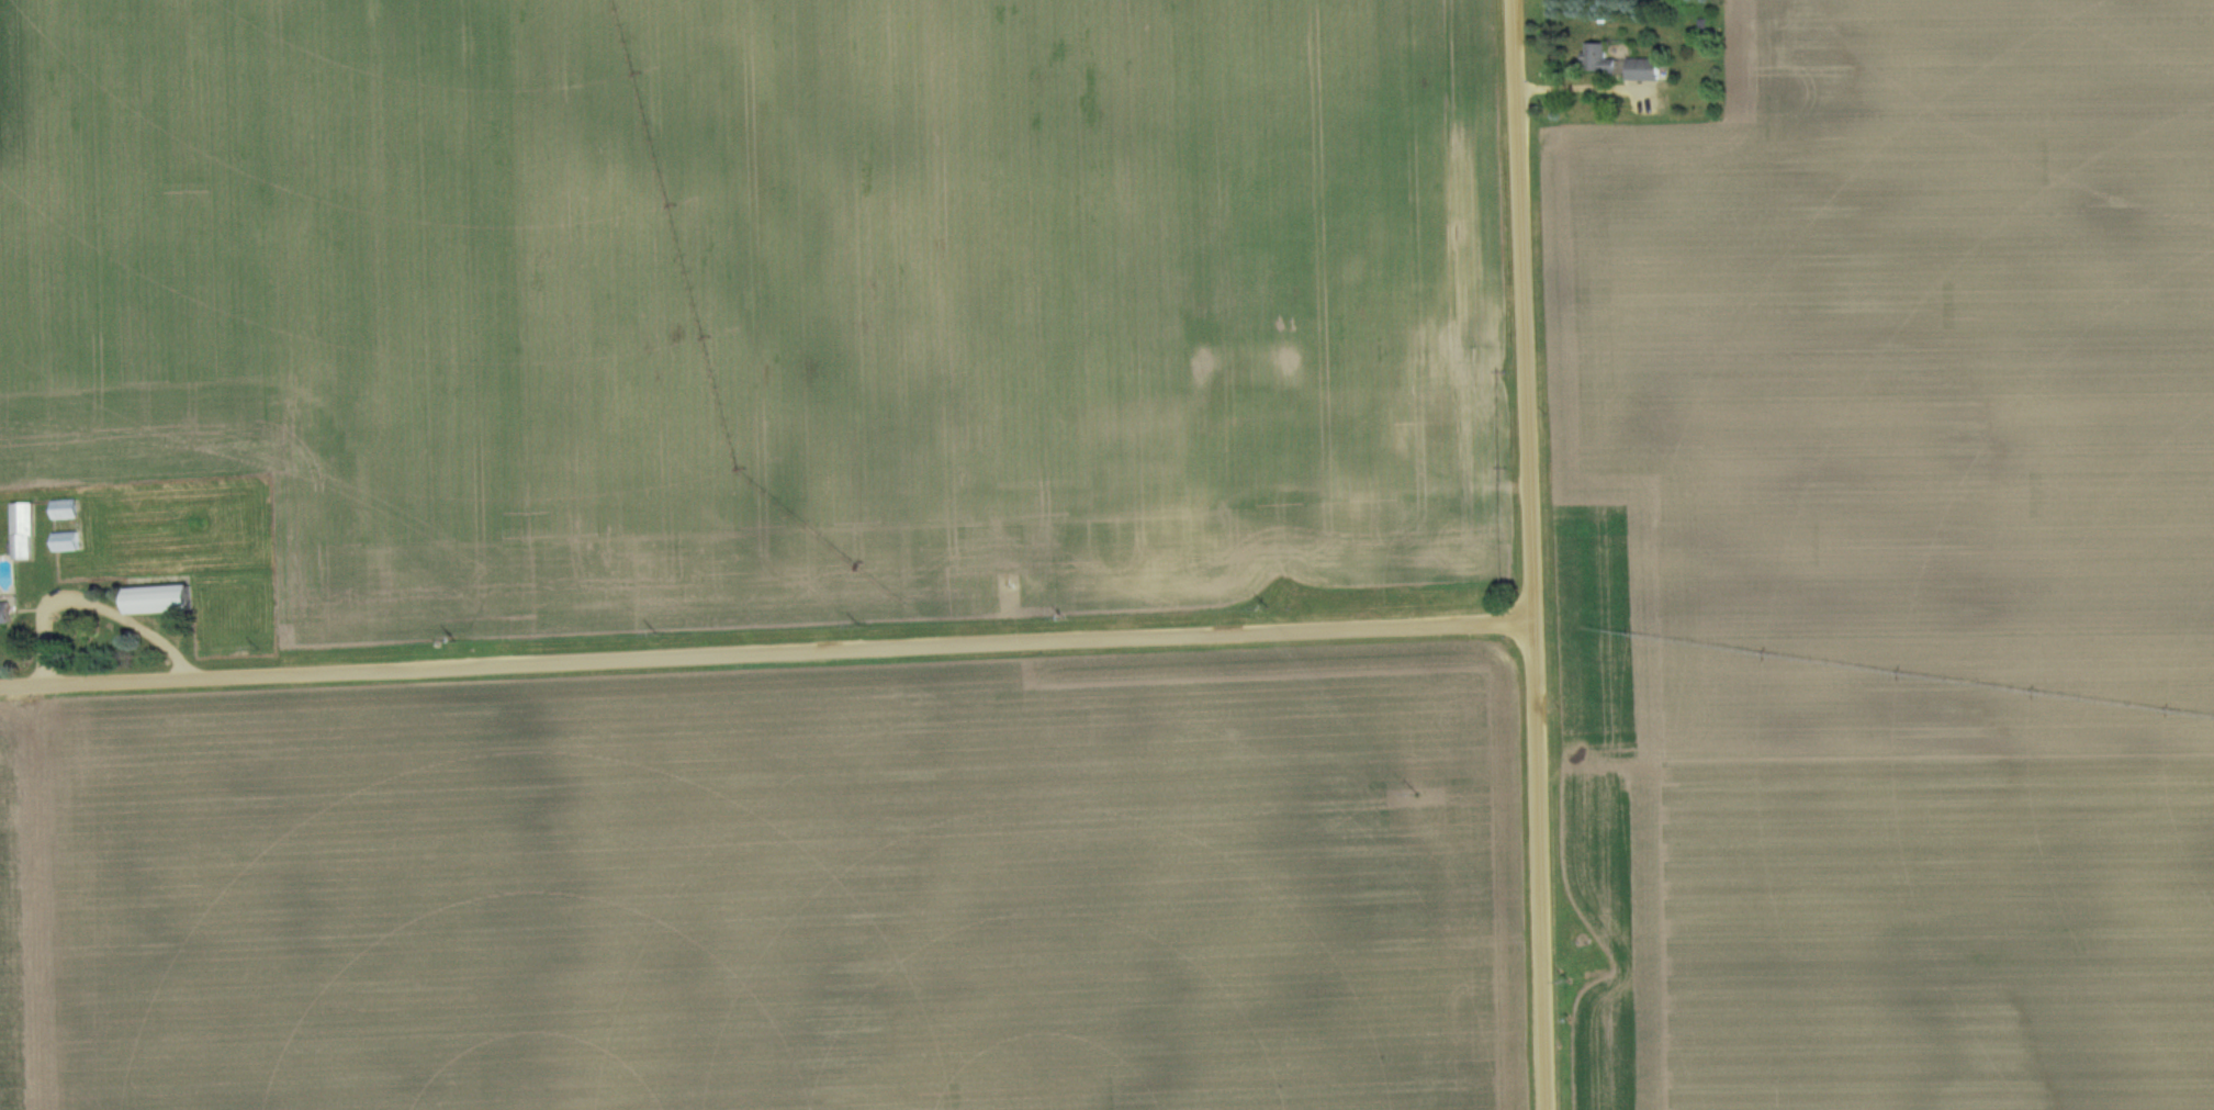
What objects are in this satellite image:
building: (1642, 67)
road: (1573, 87)
crop: (730, 192)
crop: (1915, 385)
crop: (845, 496)
building: (64, 506)
building: (22, 528)
building: (66, 539)
road: (1529, 554)
building: (159, 597)
road: (89, 604)
building: (4, 610)
road: (765, 652)
crop: (1603, 738)
crop: (784, 904)
crop: (26, 928)
crop: (1930, 937)

